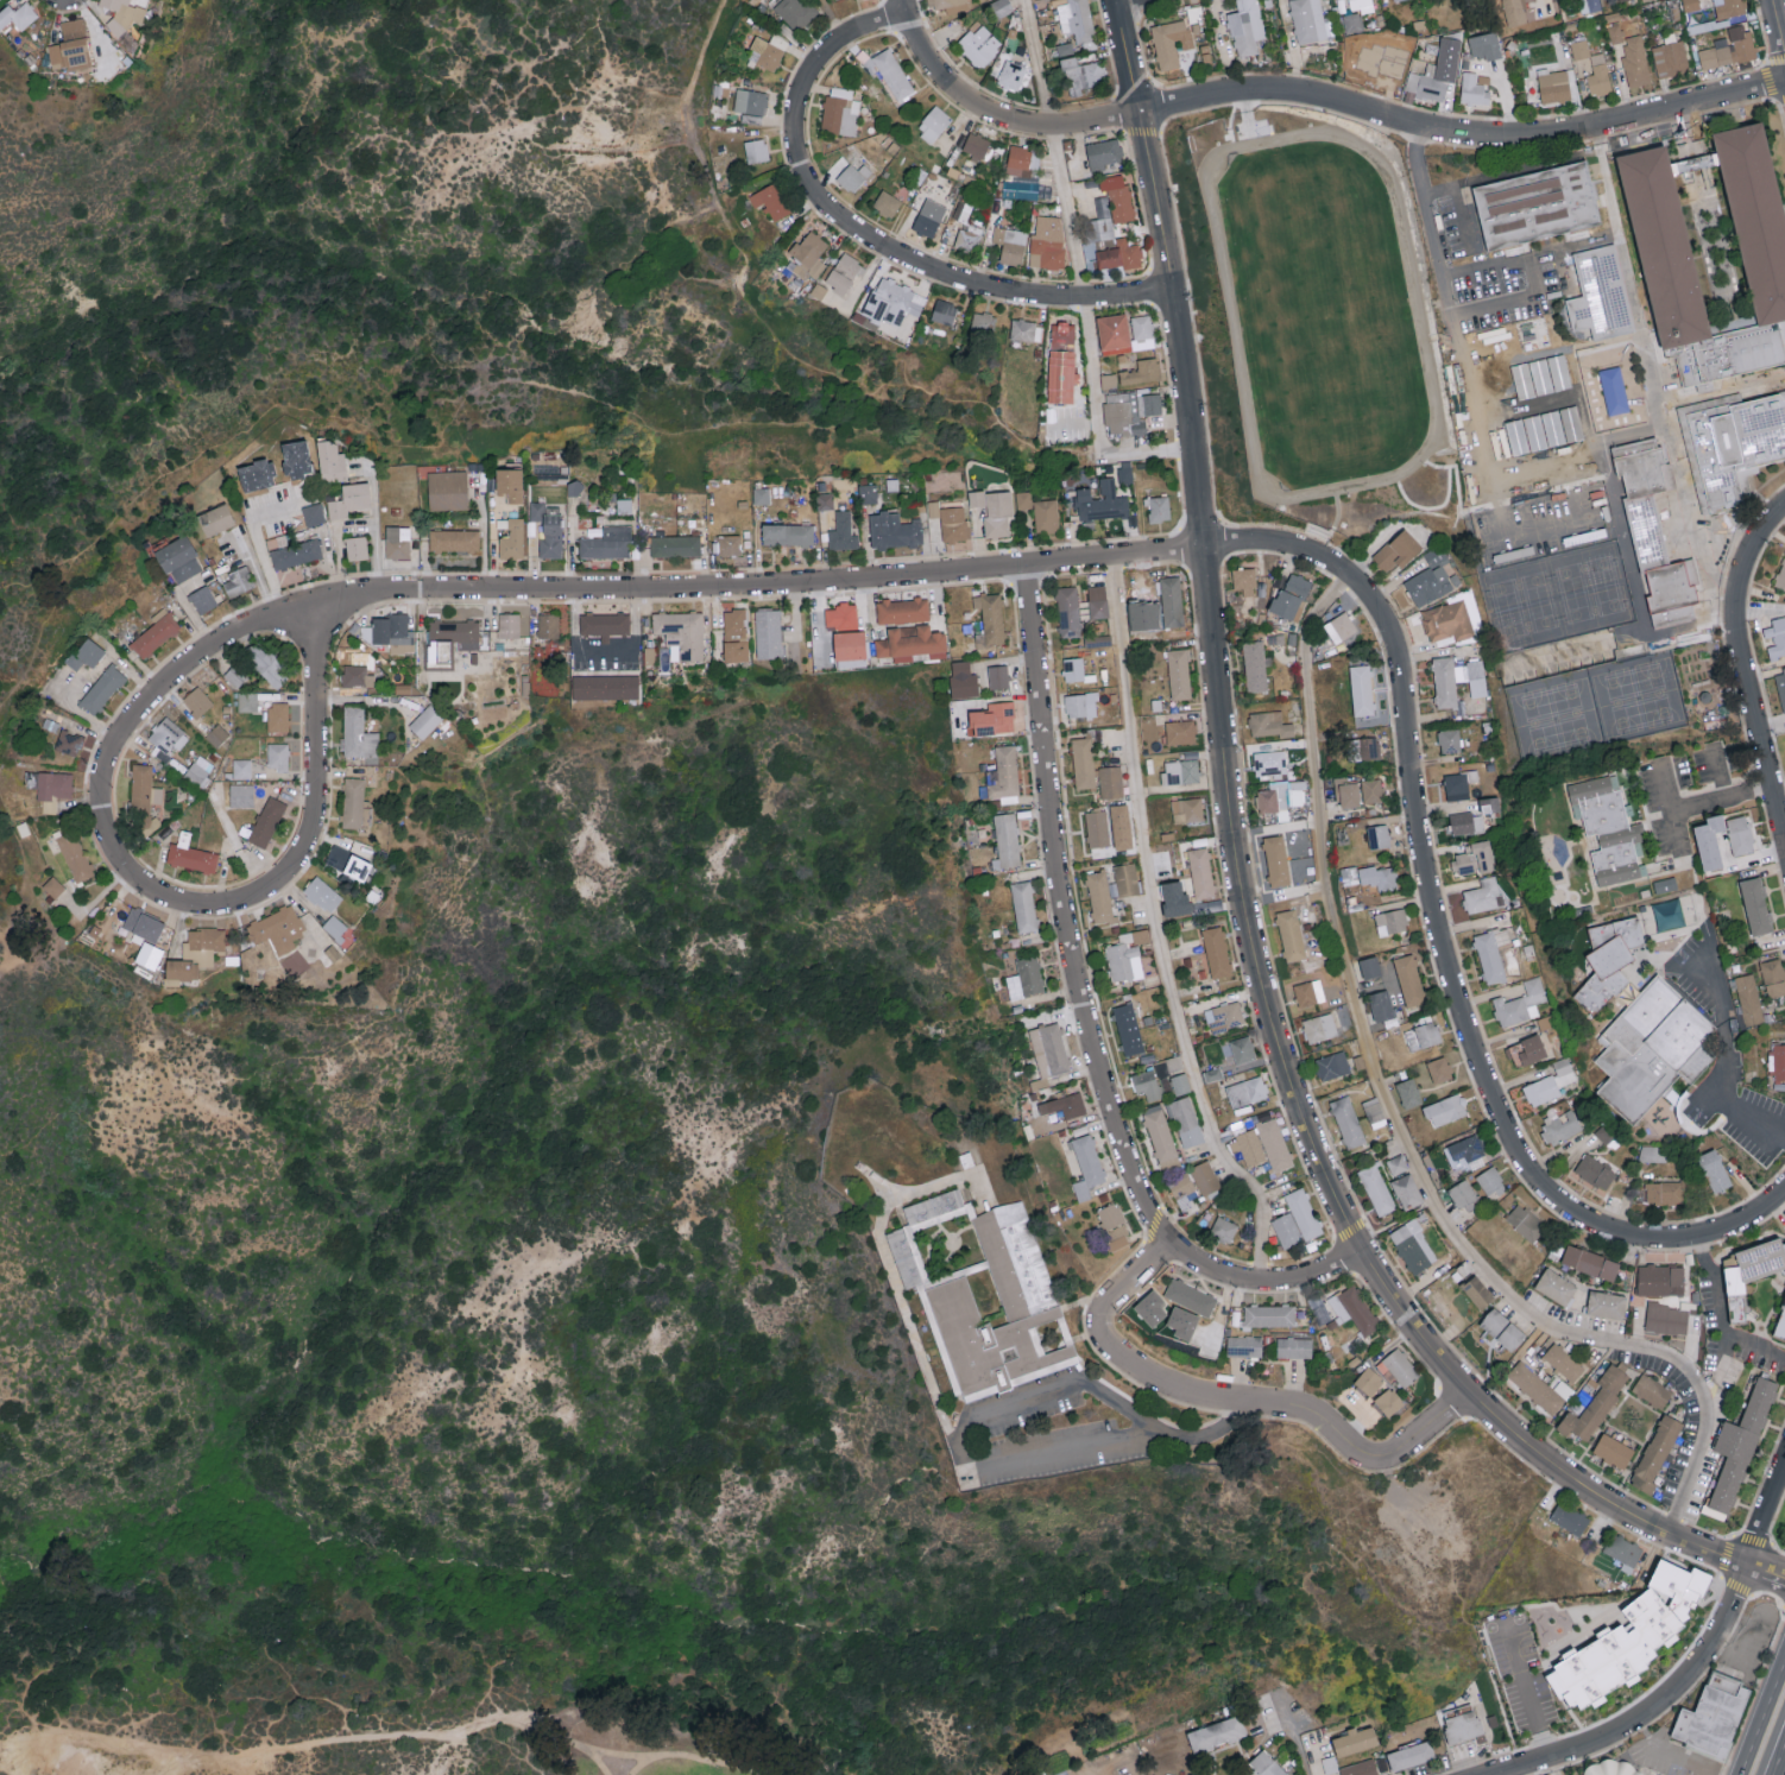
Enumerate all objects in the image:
road: (1117, 0)
building: (1620, 0)
building: (945, 4)
building: (1362, 5)
building: (1590, 5)
building: (1691, 5)
building: (1001, 7)
building: (1730, 7)
building: (1515, 11)
building: (795, 12)
building: (18, 14)
building: (122, 14)
road: (838, 15)
building: (1310, 20)
road: (1779, 20)
building: (1078, 21)
building: (1352, 21)
building: (1247, 29)
building: (1615, 32)
building: (1171, 42)
building: (979, 44)
building: (1486, 45)
building: (70, 46)
building: (1579, 48)
building: (1065, 49)
building: (1729, 50)
building: (767, 51)
building: (1670, 58)
building: (1635, 59)
building: (1382, 68)
building: (1437, 71)
building: (892, 72)
building: (1008, 74)
building: (1084, 75)
building: (1598, 75)
road: (1767, 75)
building: (1554, 86)
building: (1472, 89)
building: (750, 101)
road: (994, 109)
building: (840, 110)
building: (933, 124)
road: (1461, 135)
road: (1597, 139)
building: (975, 145)
building: (756, 150)
building: (1103, 153)
building: (1020, 162)
building: (853, 176)
building: (1115, 181)
building: (1021, 189)
building: (771, 200)
building: (887, 203)
building: (1121, 203)
road: (1461, 203)
building: (1535, 203)
road: (832, 209)
building: (1753, 211)
building: (928, 216)
building: (1100, 220)
parking lot: (1459, 228)
building: (969, 238)
building: (1047, 241)
building: (1658, 241)
building: (1010, 245)
building: (808, 254)
building: (1119, 254)
park: (400, 257)
building: (844, 273)
road: (1077, 274)
building: (1603, 291)
parking lot: (1495, 292)
road: (1127, 293)
building: (892, 302)
building: (944, 311)
road: (1462, 314)
building: (982, 322)
building: (1026, 329)
building: (1142, 330)
building: (1114, 331)
road: (774, 335)
building: (1729, 353)
building: (1061, 361)
road: (1654, 366)
building: (1134, 375)
building: (1537, 379)
building: (1616, 391)
road: (466, 404)
building: (1130, 411)
building: (1547, 431)
building: (1736, 446)
building: (296, 459)
building: (330, 461)
building: (1124, 474)
building: (257, 475)
building: (510, 484)
building: (448, 489)
building: (868, 493)
building: (761, 495)
building: (349, 499)
building: (1024, 499)
building: (825, 500)
building: (1102, 501)
building: (933, 509)
building: (1158, 509)
building: (995, 510)
building: (313, 513)
building: (1046, 514)
building: (215, 519)
road: (376, 523)
building: (954, 524)
building: (548, 530)
building: (894, 530)
building: (843, 532)
building: (1654, 532)
building: (788, 533)
building: (513, 539)
building: (454, 541)
building: (605, 541)
road: (259, 542)
building: (397, 542)
road: (339, 543)
building: (728, 544)
building: (675, 545)
building: (357, 548)
building: (1398, 550)
building: (296, 554)
building: (1431, 557)
building: (178, 558)
park: (1552, 567)
building: (1780, 576)
building: (1244, 580)
building: (238, 582)
road: (761, 582)
building: (1428, 583)
building: (1291, 595)
building: (202, 599)
building: (1097, 601)
building: (1171, 601)
building: (902, 609)
building: (1067, 611)
building: (841, 615)
building: (990, 619)
building: (1447, 620)
building: (509, 625)
building: (548, 625)
building: (605, 625)
building: (1341, 627)
building: (456, 632)
building: (154, 633)
building: (768, 633)
building: (1779, 633)
building: (681, 634)
building: (734, 636)
building: (912, 643)
building: (849, 645)
building: (86, 653)
building: (266, 663)
building: (1254, 665)
road: (1742, 667)
building: (1073, 668)
building: (1179, 674)
building: (236, 676)
building: (358, 676)
building: (997, 676)
building: (963, 680)
building: (1456, 680)
building: (1781, 686)
building: (605, 687)
building: (102, 689)
building: (1362, 689)
park: (1639, 696)
building: (197, 701)
building: (247, 701)
building: (1080, 705)
park: (1557, 716)
building: (277, 718)
building: (992, 719)
building: (425, 721)
building: (1269, 725)
building: (1180, 732)
building: (358, 733)
building: (216, 735)
building: (168, 738)
building: (1449, 740)
building: (69, 741)
building: (1364, 748)
building: (277, 756)
building: (1083, 763)
building: (1269, 763)
building: (198, 769)
building: (242, 769)
building: (1180, 771)
road: (1723, 772)
building: (1003, 776)
building: (1110, 782)
building: (1458, 785)
building: (145, 787)
building: (52, 789)
building: (1371, 789)
building: (1348, 792)
building: (241, 795)
building: (1281, 796)
road: (1723, 798)
building: (355, 803)
road: (1781, 807)
building: (1187, 809)
road: (1674, 810)
building: (266, 821)
building: (1467, 822)
building: (1121, 826)
building: (1097, 828)
building: (1608, 829)
building: (1379, 834)
building: (1740, 834)
building: (1709, 839)
building: (1007, 840)
building: (190, 854)
building: (75, 855)
building: (1474, 857)
building: (1276, 859)
building: (348, 863)
building: (1201, 872)
building: (1349, 874)
building: (1386, 877)
building: (1127, 878)
building: (1665, 883)
building: (53, 886)
road: (147, 890)
building: (323, 893)
building: (1099, 895)
building: (1483, 895)
road: (1432, 901)
road: (1247, 903)
building: (1755, 904)
building: (1024, 905)
building: (1390, 920)
building: (335, 927)
building: (277, 929)
road: (1153, 930)
building: (1291, 934)
road: (2, 949)
building: (1216, 950)
building: (195, 954)
building: (1127, 954)
building: (1489, 956)
road: (17, 959)
building: (1609, 959)
building: (1369, 965)
building: (1773, 975)
building: (1026, 977)
building: (1409, 979)
road: (1702, 985)
building: (1308, 991)
building: (1749, 998)
building: (1520, 1003)
building: (1381, 1004)
road: (1087, 1015)
building: (1224, 1016)
building: (1319, 1027)
building: (1128, 1028)
building: (1423, 1035)
building: (1242, 1048)
building: (1529, 1048)
building: (1655, 1051)
road: (1733, 1057)
building: (1777, 1061)
building: (1331, 1065)
building: (1439, 1068)
building: (1212, 1073)
building: (1550, 1082)
building: (1147, 1084)
building: (1247, 1091)
building: (1408, 1092)
building: (1064, 1105)
building: (1445, 1108)
building: (1185, 1120)
building: (1348, 1120)
road: (1395, 1129)
building: (1160, 1135)
building: (1274, 1144)
building: (1248, 1147)
building: (1465, 1152)
building: (1396, 1163)
building: (1086, 1164)
building: (1714, 1169)
building: (1595, 1170)
building: (1205, 1176)
building: (1490, 1181)
building: (1182, 1188)
building: (1376, 1188)
building: (1407, 1190)
building: (1663, 1190)
building: (1462, 1192)
building: (1303, 1212)
building: (1110, 1214)
road: (1753, 1215)
building: (1526, 1221)
building: (1223, 1228)
building: (1286, 1228)
building: (1117, 1236)
building: (1415, 1249)
building: (1590, 1261)
building: (1749, 1270)
building: (1660, 1280)
road: (896, 1281)
building: (1556, 1286)
building: (1477, 1290)
building: (1191, 1296)
building: (1032, 1303)
building: (1606, 1303)
building: (1358, 1309)
building: (1268, 1314)
road: (1722, 1315)
building: (1667, 1318)
building: (1780, 1324)
building: (1502, 1328)
park: (578, 1332)
road: (1756, 1344)
building: (1244, 1345)
building: (1294, 1346)
building: (1563, 1362)
building: (1400, 1366)
building: (1369, 1379)
building: (1535, 1386)
building: (1652, 1390)
building: (1389, 1401)
road: (1236, 1402)
building: (1595, 1404)
road: (1165, 1435)
parking lot: (1046, 1436)
building: (1739, 1442)
building: (1613, 1449)
building: (1654, 1455)
road: (971, 1472)
road: (1765, 1514)
building: (1569, 1517)
road: (1771, 1526)
park: (1779, 1529)
building: (1623, 1550)
road: (1727, 1558)
building: (1664, 1603)
road: (1736, 1619)
road: (1743, 1641)
parking lot: (1748, 1647)
parking lot: (1572, 1680)
road: (1531, 1704)
road: (1658, 1708)
road: (1761, 1713)
park: (601, 1719)
building: (1710, 1719)
building: (1464, 1726)
building: (1216, 1733)
building: (1355, 1741)
road: (282, 1745)
park: (652, 1752)
road: (1312, 1752)
road: (586, 1754)
building: (1411, 1755)
road: (676, 1756)
road: (1119, 1760)
road: (1779, 1760)
parking lot: (1671, 1761)
road: (1679, 1762)
building: (1266, 1764)
road: (642, 1765)
building: (1360, 1768)
building: (1609, 1768)
building: (1196, 1774)

